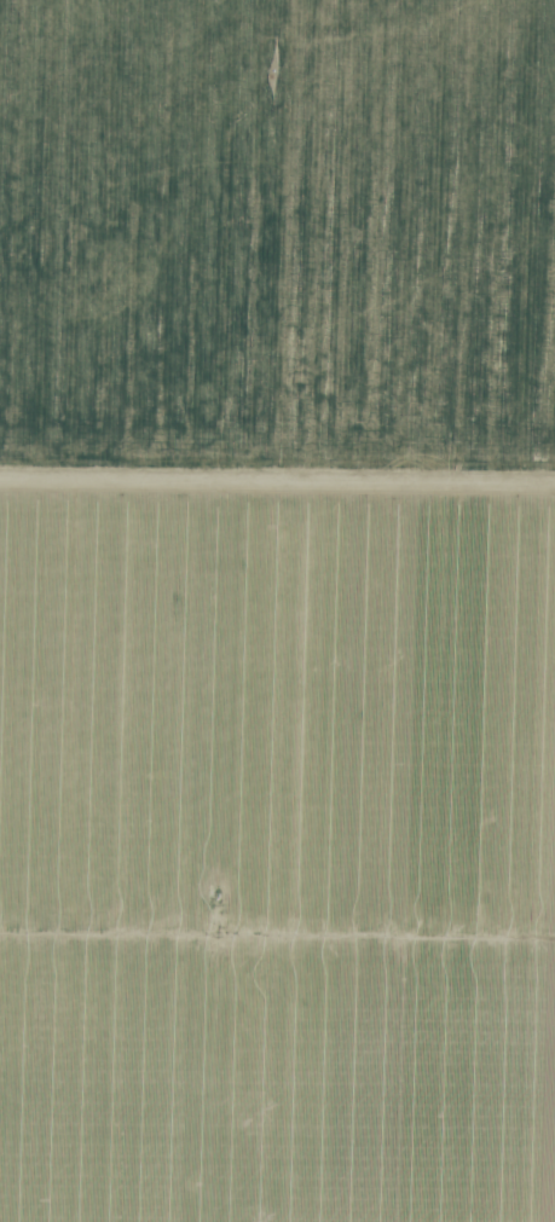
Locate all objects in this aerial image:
crop: (277, 610)

